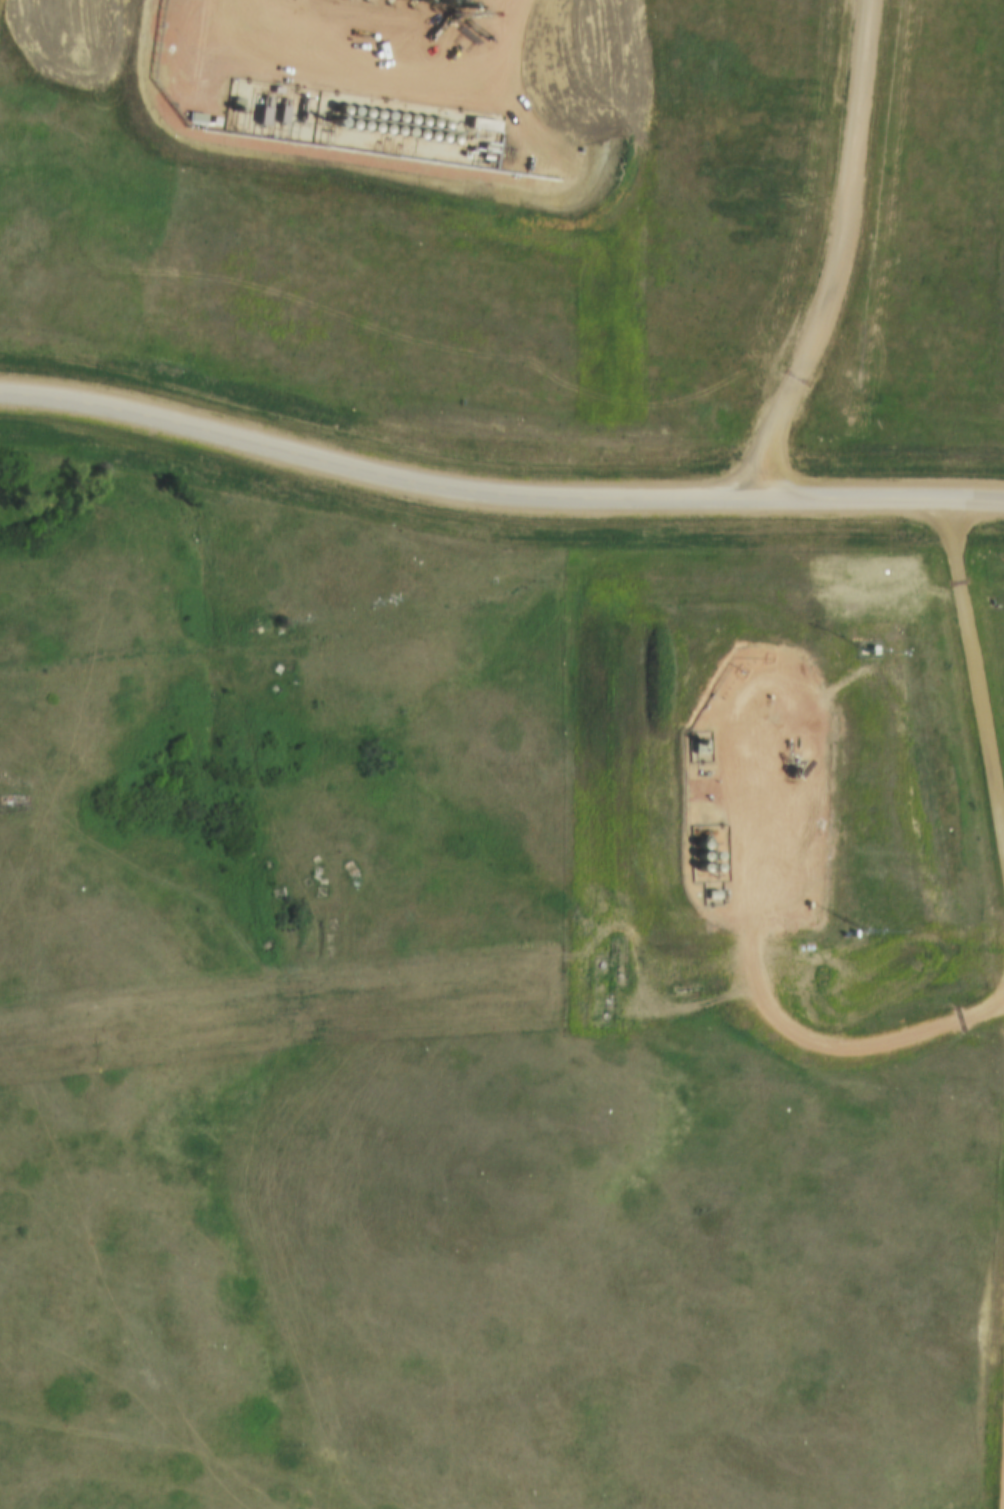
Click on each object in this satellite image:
road: (845, 259)
road: (496, 492)
road: (974, 665)
petroleum well: (789, 763)
building: (695, 847)
storage tank: (695, 847)
building: (696, 859)
storage tank: (696, 859)
building: (710, 859)
storage tank: (710, 859)
building: (709, 870)
storage tank: (709, 870)
building: (698, 871)
storage tank: (698, 871)
road: (830, 1038)

